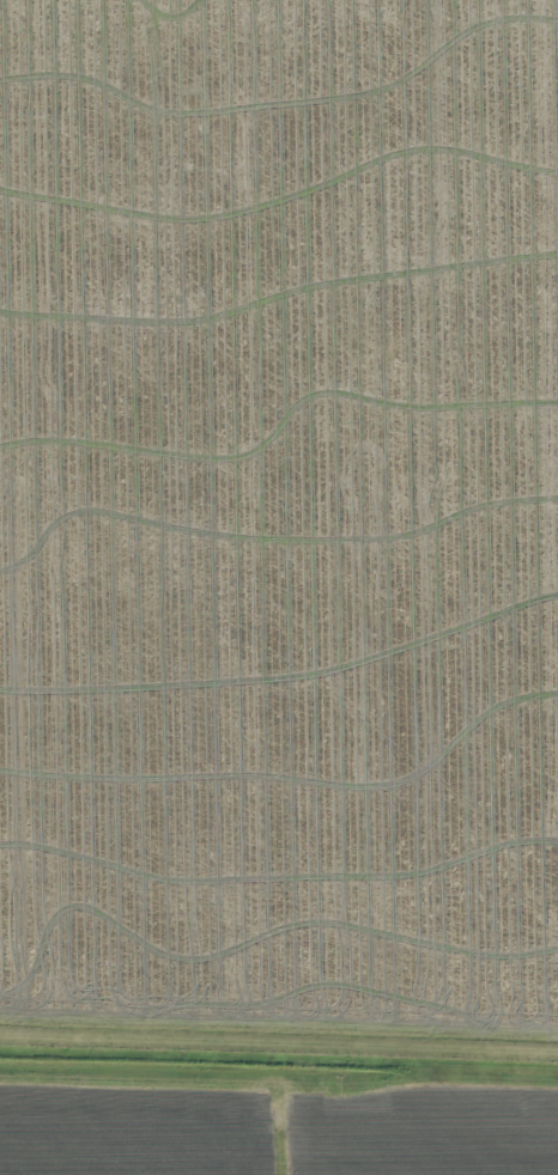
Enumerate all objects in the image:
road: (279, 1043)
road: (279, 1076)

